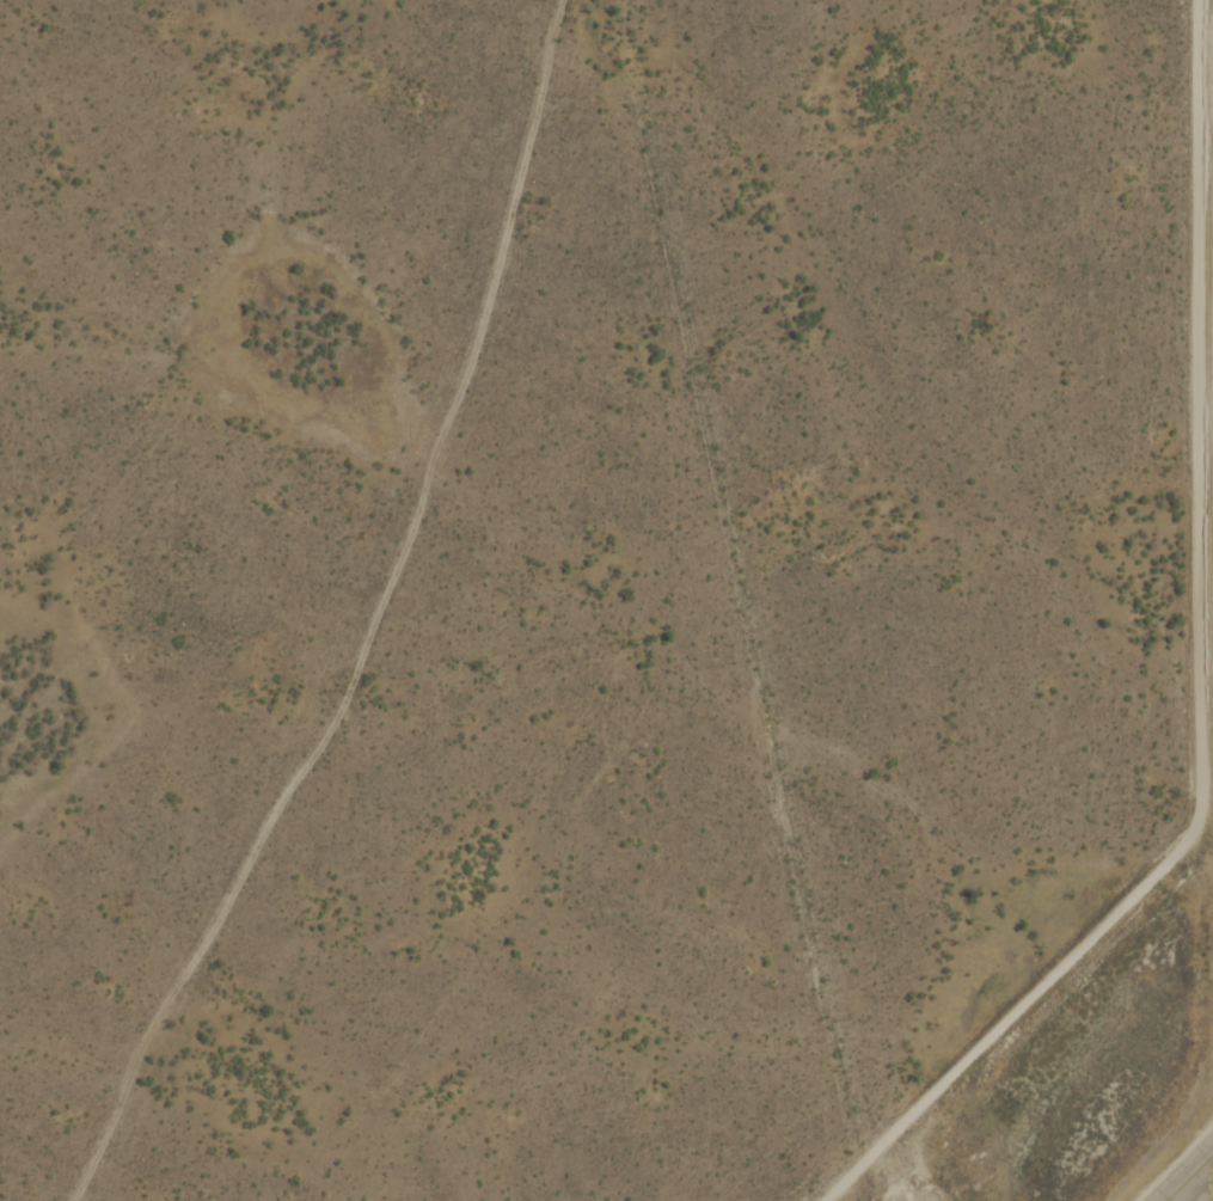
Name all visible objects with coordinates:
road: (362, 615)
road: (1197, 678)
airport: (1105, 912)
airport taxiway: (1194, 1181)
airport taxiway: (1195, 1194)

